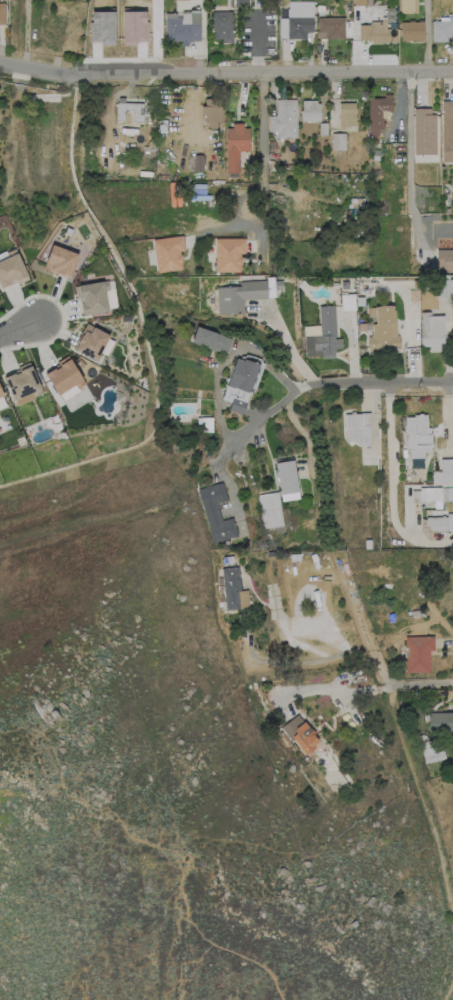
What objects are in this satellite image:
building: (241, 3)
building: (360, 3)
building: (407, 7)
building: (2, 14)
building: (102, 26)
building: (134, 26)
building: (223, 26)
building: (300, 27)
building: (333, 27)
building: (184, 29)
building: (442, 30)
building: (413, 31)
building: (378, 33)
road: (424, 37)
road: (225, 75)
building: (212, 112)
building: (311, 112)
building: (347, 114)
building: (378, 114)
building: (138, 115)
building: (285, 119)
building: (163, 126)
building: (425, 132)
building: (448, 132)
building: (384, 140)
building: (338, 141)
building: (272, 145)
building: (236, 146)
road: (259, 147)
building: (377, 155)
road: (407, 161)
building: (199, 164)
building: (169, 253)
building: (229, 255)
building: (61, 261)
building: (445, 261)
building: (11, 269)
building: (335, 284)
building: (345, 285)
building: (278, 286)
building: (445, 287)
building: (93, 297)
building: (240, 297)
building: (361, 301)
building: (348, 302)
building: (362, 327)
road: (20, 330)
building: (384, 330)
building: (432, 332)
building: (324, 335)
building: (211, 340)
building: (92, 342)
road: (288, 347)
road: (223, 358)
building: (243, 376)
building: (65, 378)
building: (23, 383)
road: (384, 385)
building: (1, 394)
building: (238, 406)
road: (259, 415)
building: (205, 425)
building: (358, 428)
building: (418, 436)
building: (287, 477)
building: (442, 478)
building: (448, 494)
building: (431, 495)
building: (271, 510)
building: (216, 512)
building: (437, 524)
building: (368, 544)
building: (271, 554)
building: (228, 560)
building: (337, 560)
building: (341, 580)
building: (391, 583)
building: (231, 587)
building: (416, 605)
building: (419, 614)
building: (392, 618)
building: (418, 654)
road: (324, 658)
building: (359, 678)
road: (421, 685)
road: (337, 688)
building: (441, 722)
building: (301, 734)
building: (431, 753)
road: (426, 810)
road: (186, 874)
road: (181, 981)
road: (448, 982)

